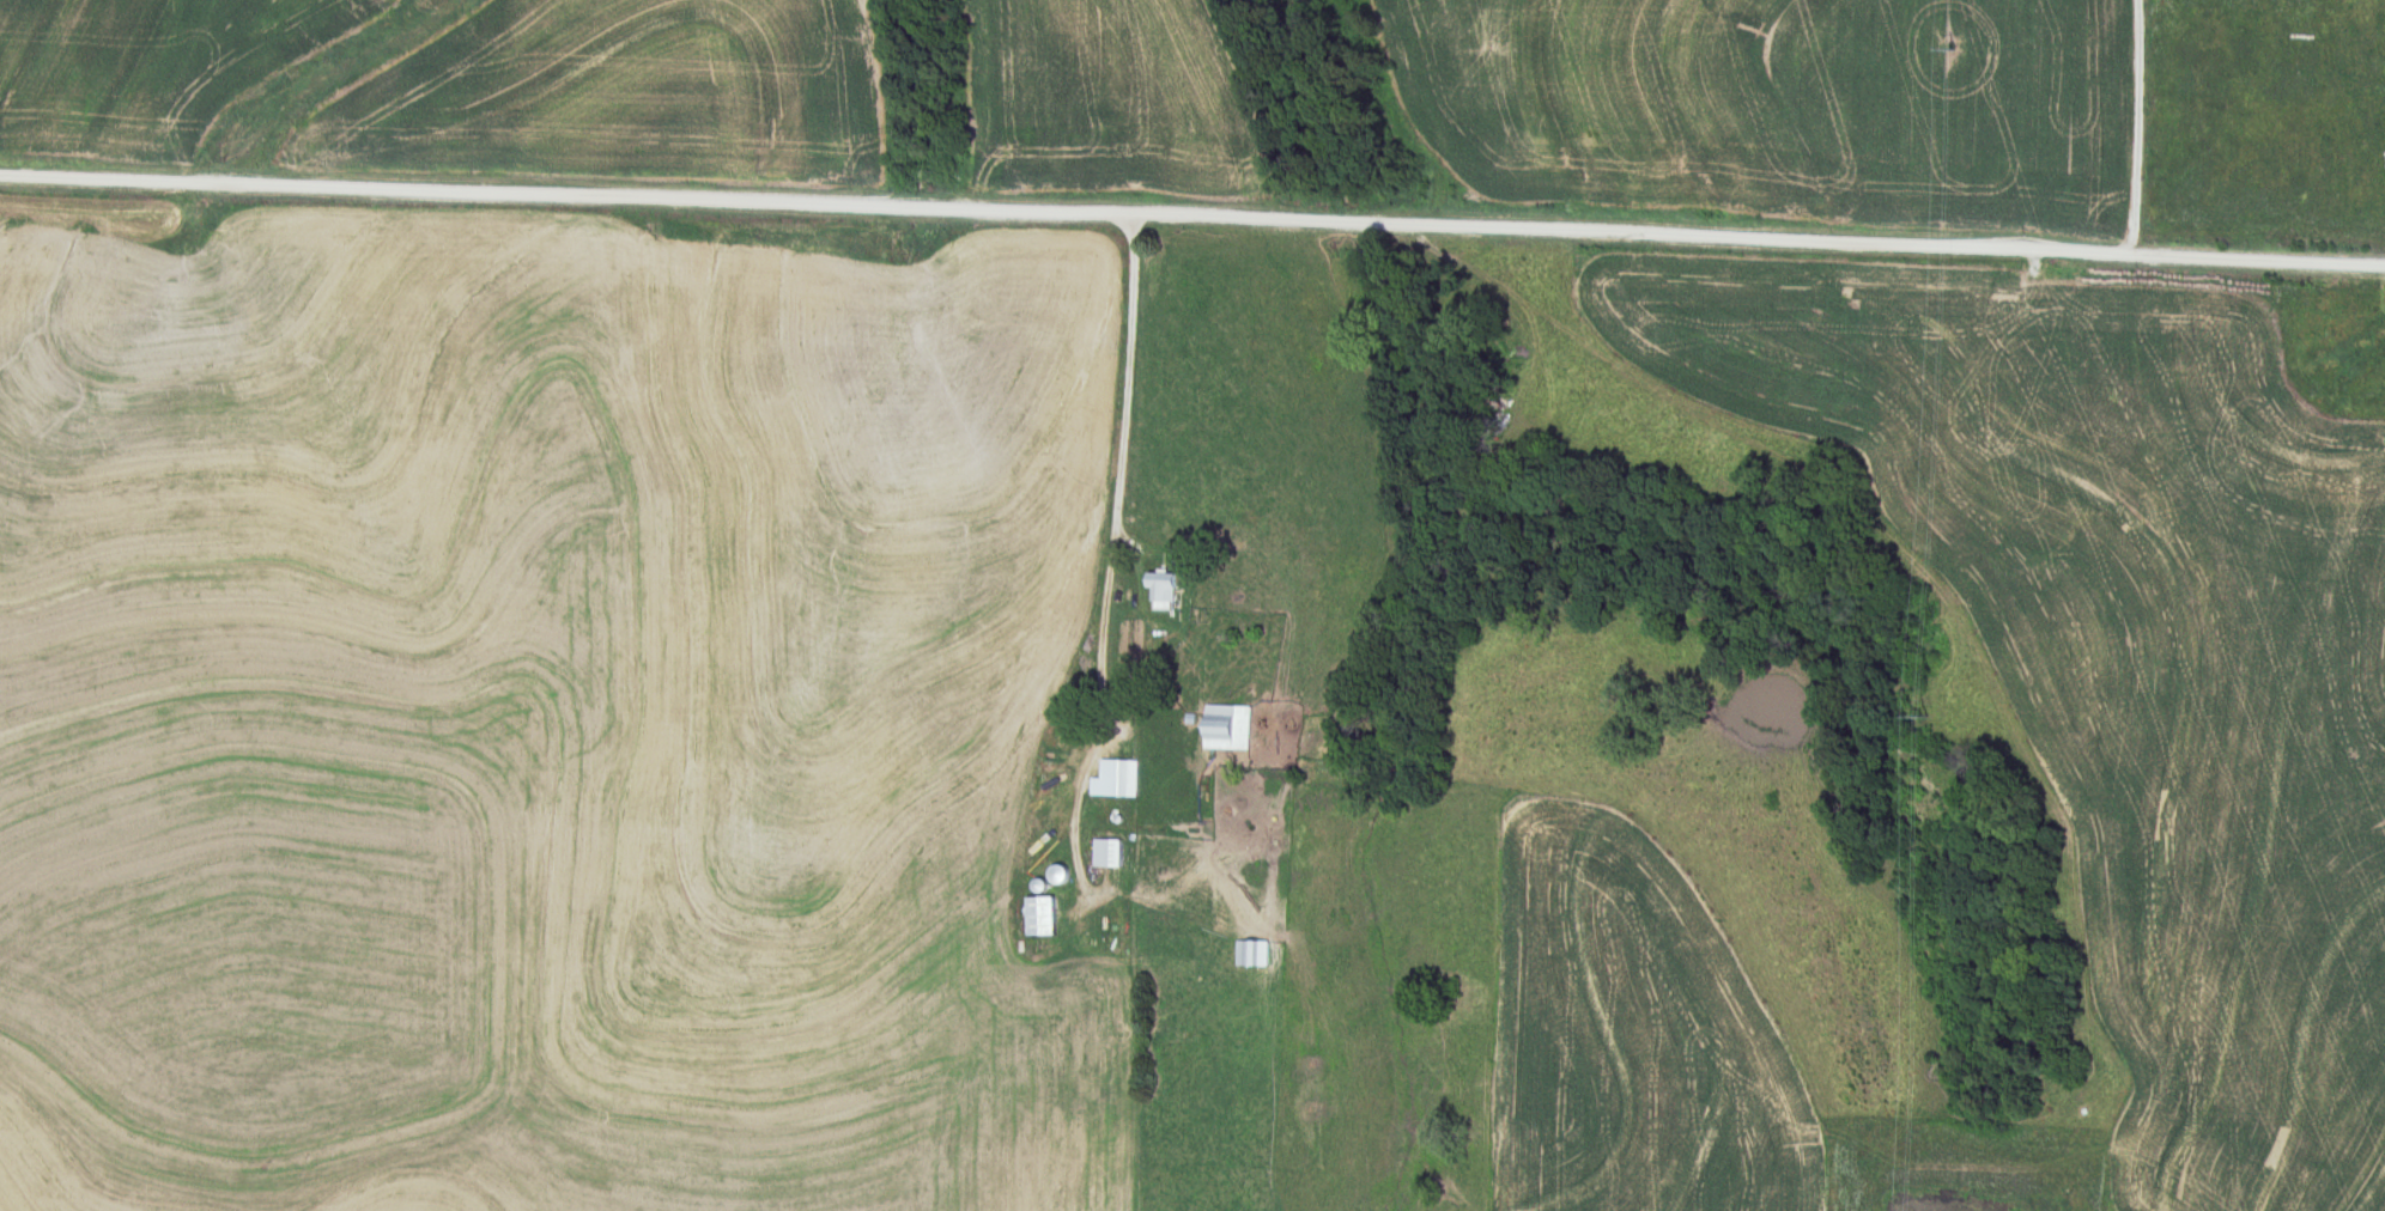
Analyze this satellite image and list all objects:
road: (2142, 128)
road: (1192, 202)
road: (1111, 540)
building: (1157, 589)
building: (1221, 728)
building: (1122, 778)
building: (1102, 853)
building: (1052, 875)
building: (1032, 915)
building: (1246, 953)

